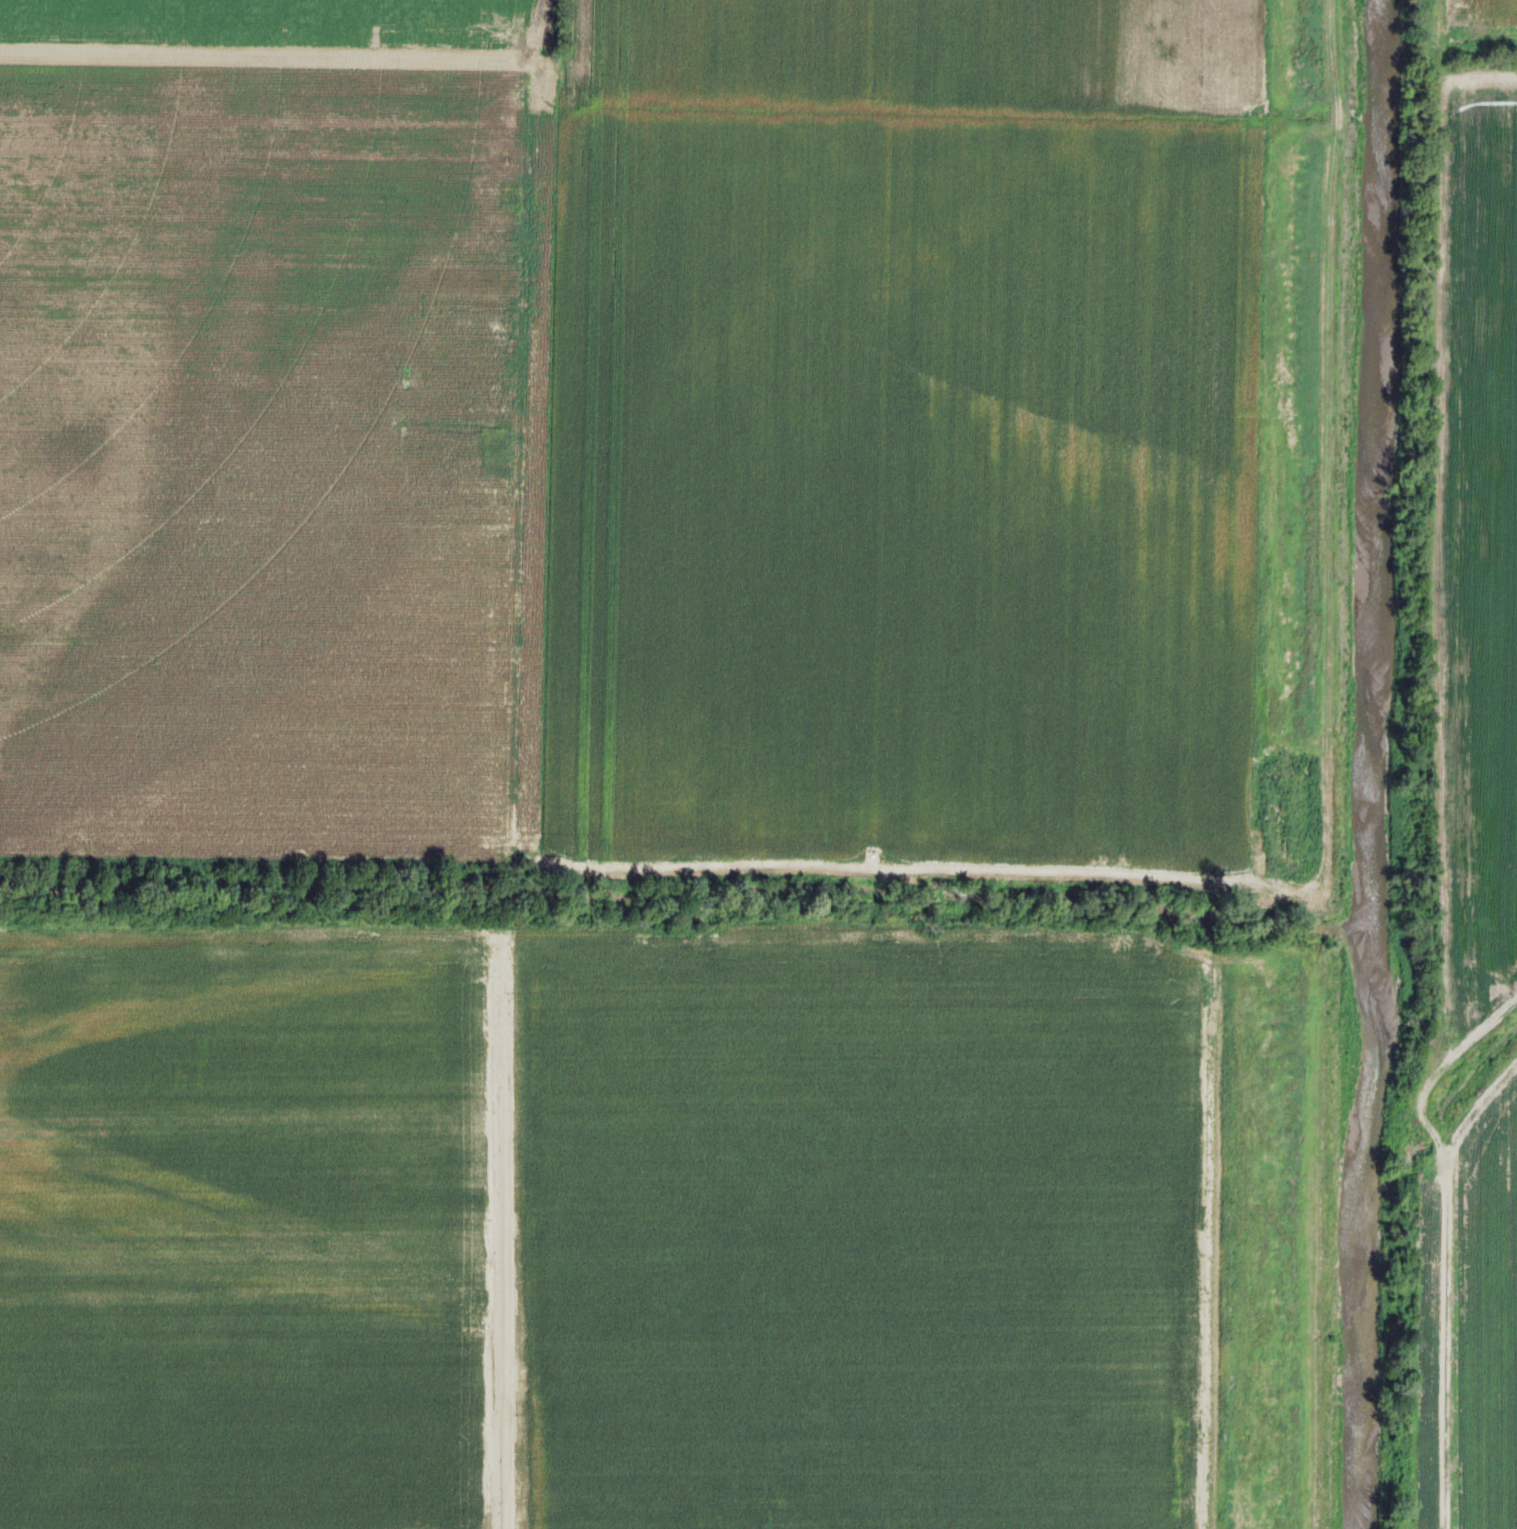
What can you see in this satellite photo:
river: (1372, 765)
road: (1437, 769)
road: (1420, 889)

